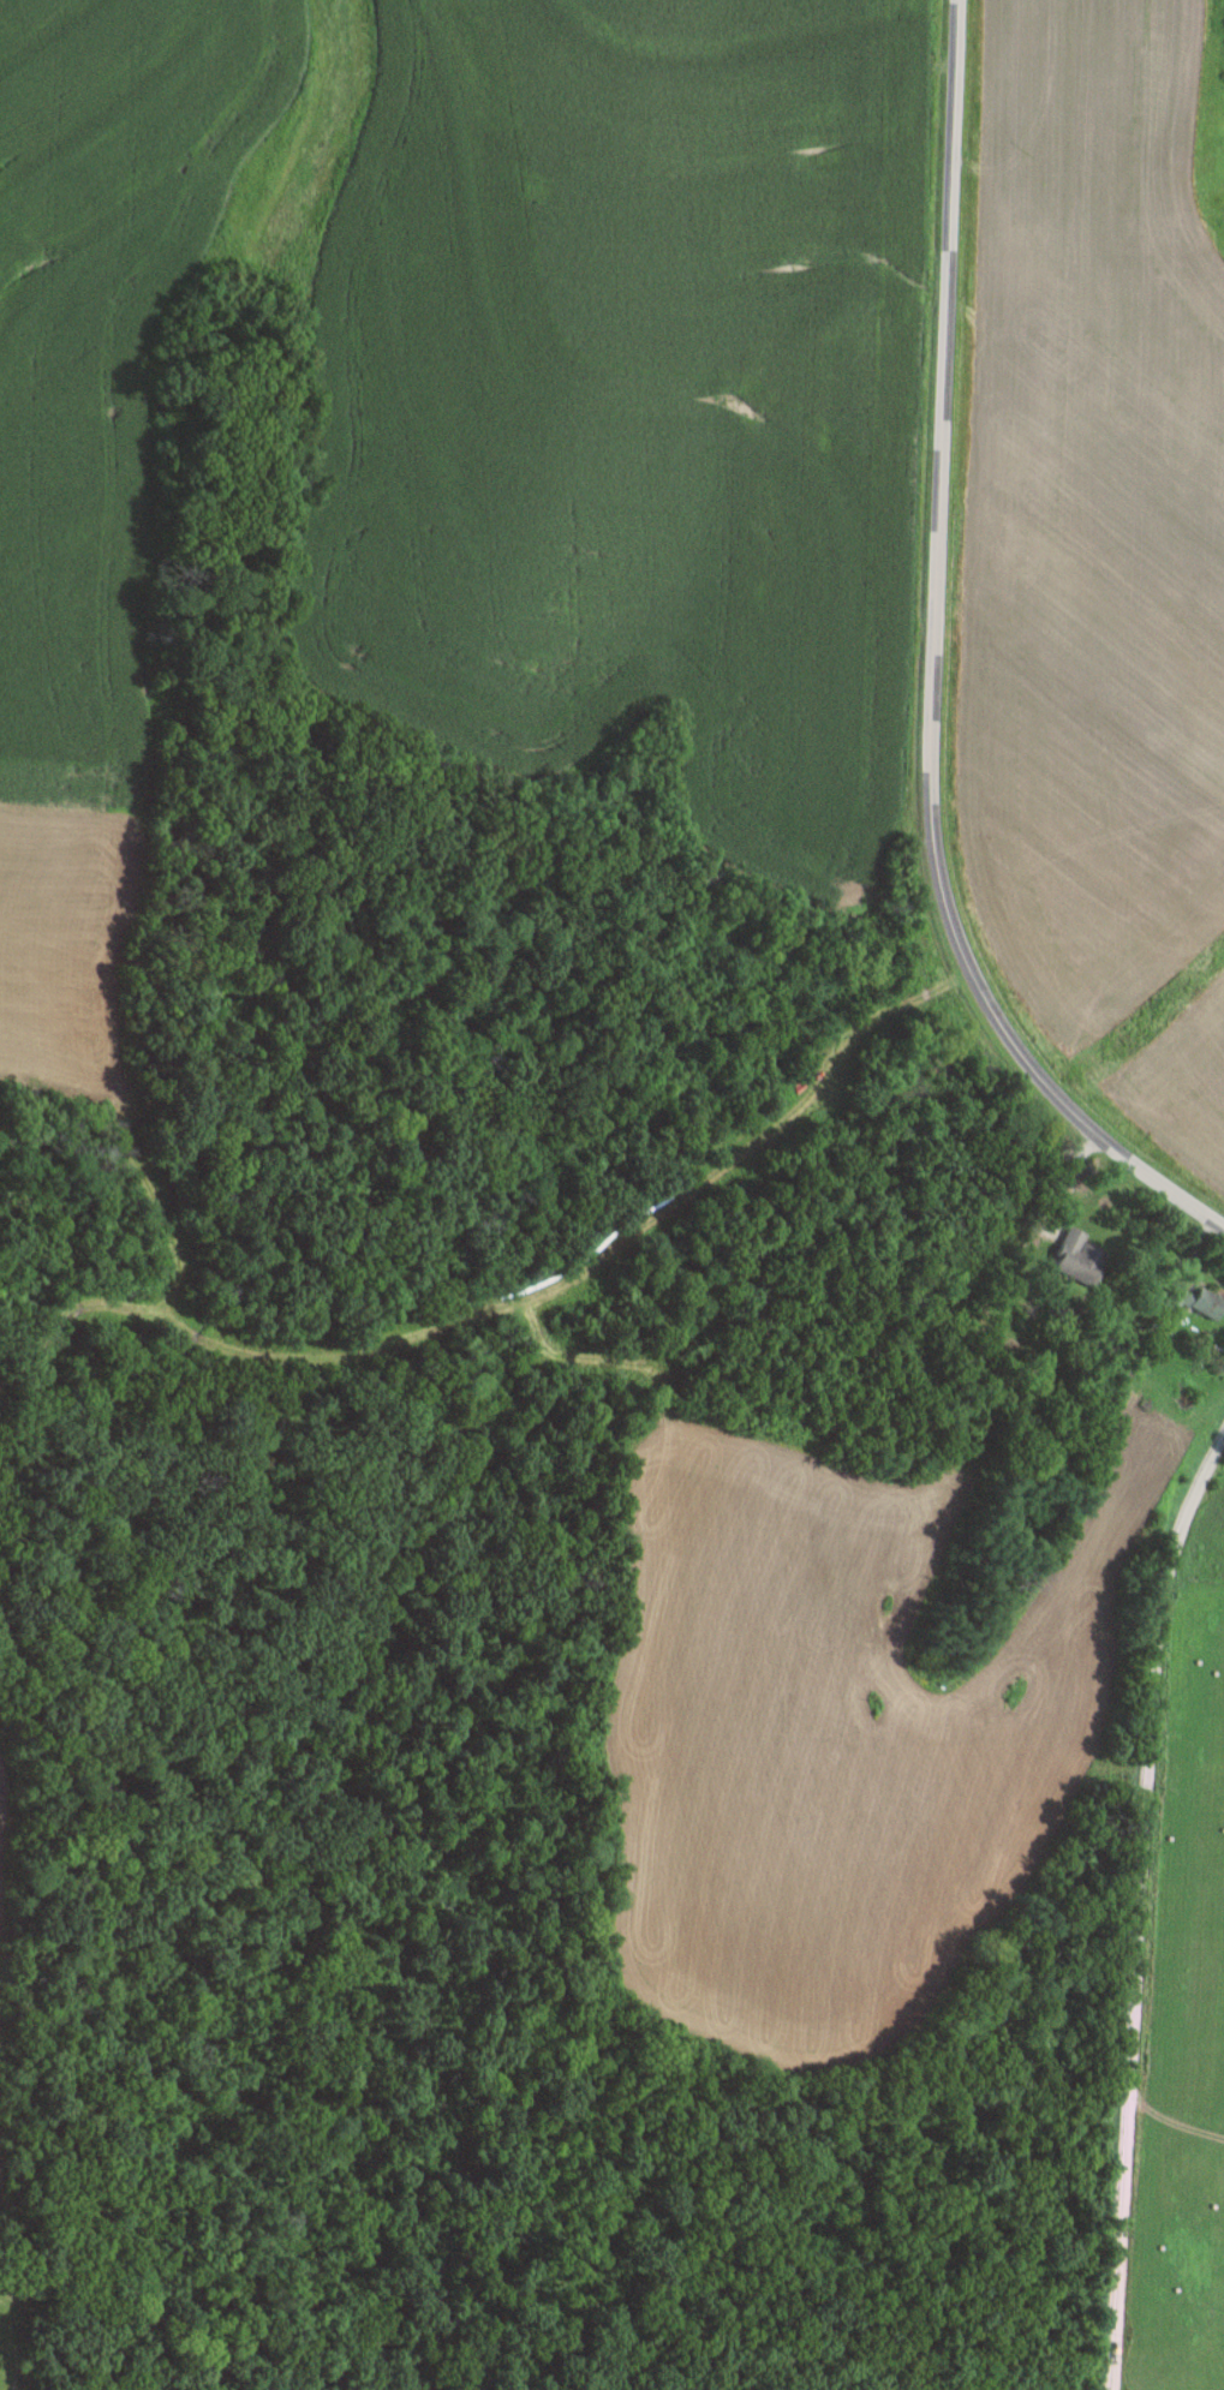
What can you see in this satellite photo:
road: (931, 668)
building: (1080, 1255)
building: (1210, 1302)
road: (1138, 1901)

